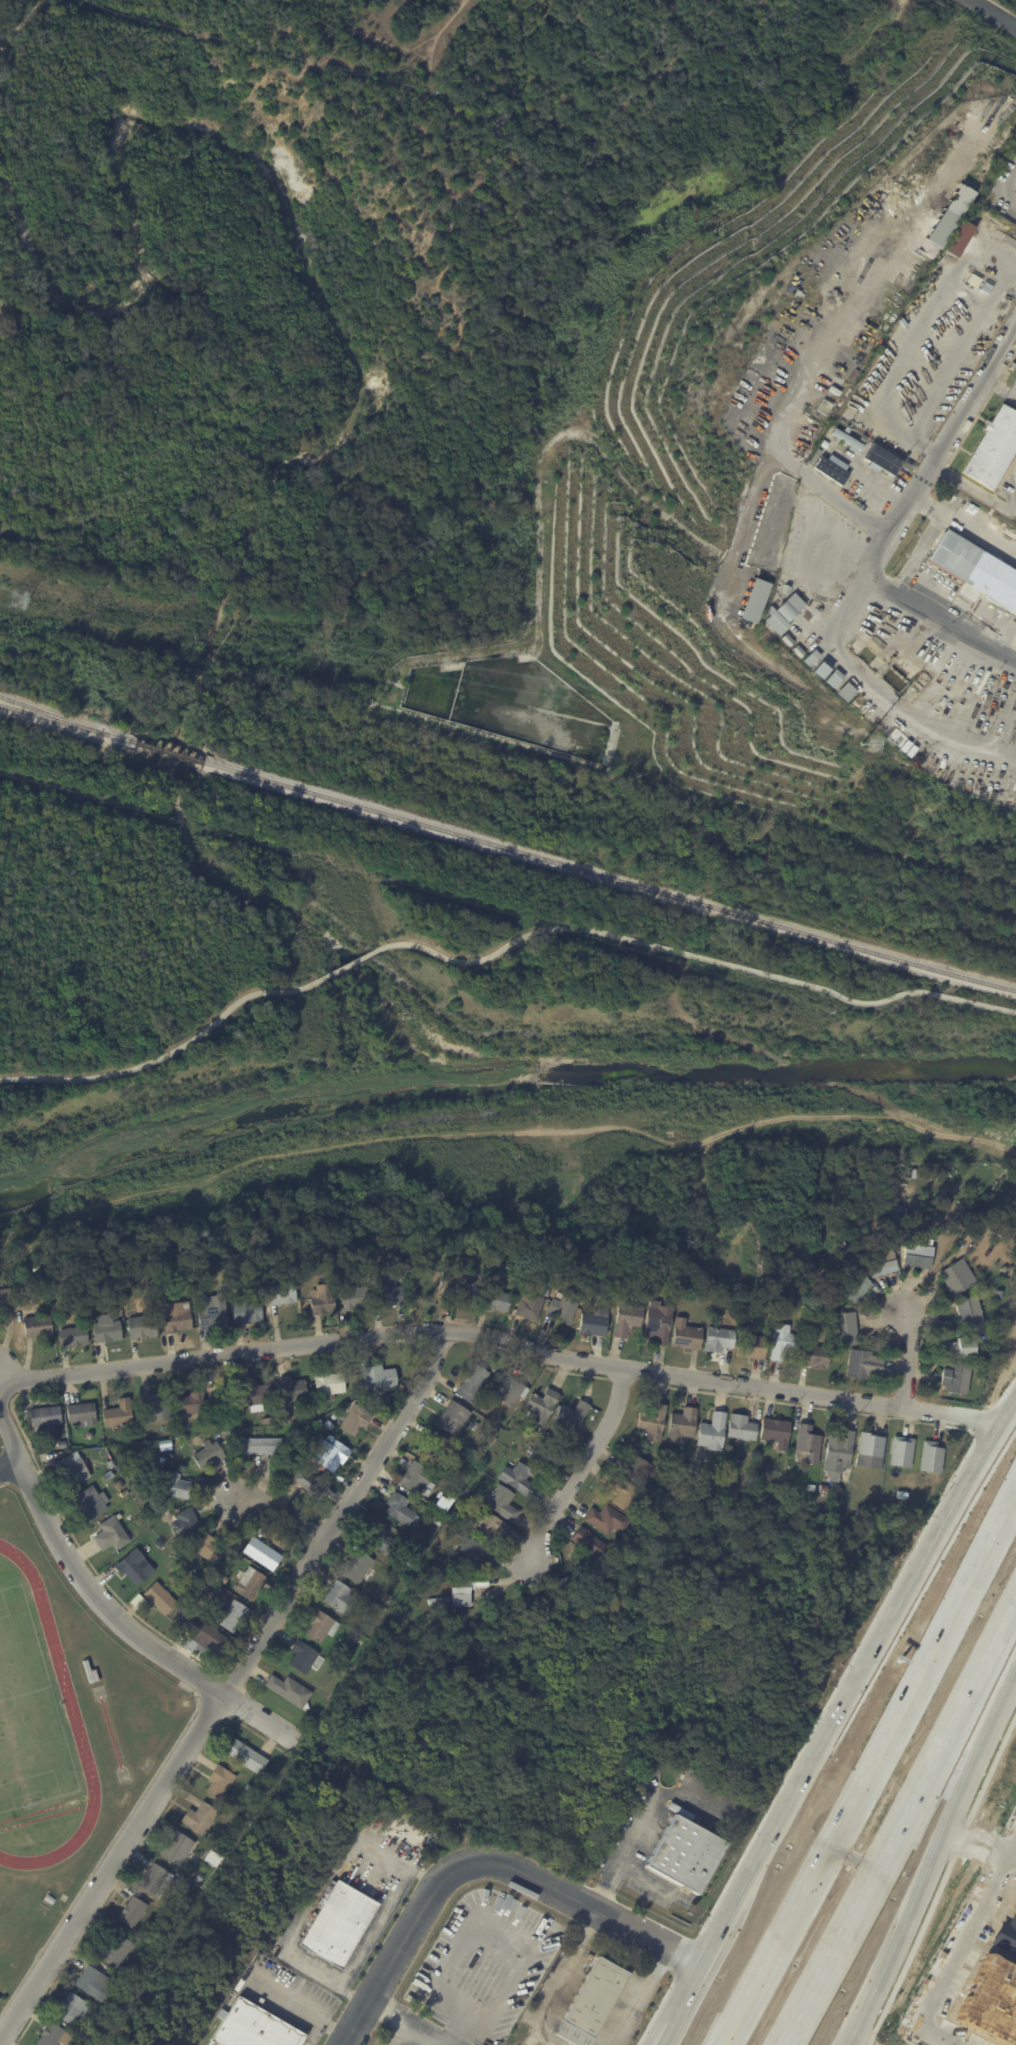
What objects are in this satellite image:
road: (994, 13)
road: (1009, 185)
building: (952, 214)
building: (960, 238)
road: (0, 305)
building: (1012, 365)
building: (846, 416)
building: (847, 438)
building: (993, 448)
building: (883, 456)
building: (812, 460)
building: (831, 468)
road: (895, 517)
building: (976, 567)
building: (786, 589)
building: (755, 598)
power tower: (13, 599)
building: (792, 607)
building: (777, 621)
building: (788, 640)
building: (799, 651)
building: (813, 658)
building: (823, 671)
building: (836, 679)
building: (847, 692)
railway: (38, 708)
railway: (66, 721)
power tower: (873, 743)
railway: (168, 750)
railway: (609, 875)
road: (492, 949)
road: (347, 965)
road: (811, 983)
road: (167, 1049)
building: (902, 1202)
building: (902, 1217)
building: (54, 1220)
building: (991, 1223)
building: (956, 1227)
building: (25, 1228)
building: (389, 1228)
building: (853, 1228)
building: (959, 1229)
building: (413, 1230)
building: (452, 1241)
building: (918, 1253)
building: (395, 1261)
building: (882, 1263)
building: (846, 1266)
building: (313, 1269)
building: (1005, 1269)
building: (205, 1276)
building: (790, 1278)
building: (955, 1278)
building: (460, 1281)
building: (373, 1283)
building: (818, 1284)
building: (855, 1285)
building: (530, 1288)
building: (389, 1290)
building: (280, 1294)
building: (999, 1294)
building: (5, 1298)
building: (353, 1298)
building: (323, 1299)
building: (496, 1300)
building: (529, 1306)
building: (564, 1306)
building: (211, 1312)
building: (247, 1312)
building: (969, 1312)
building: (779, 1315)
building: (175, 1317)
building: (627, 1318)
building: (123, 1319)
building: (594, 1321)
building: (659, 1322)
building: (36, 1326)
building: (141, 1326)
building: (846, 1327)
building: (106, 1330)
building: (687, 1335)
building: (72, 1336)
road: (503, 1339)
building: (719, 1340)
building: (991, 1341)
building: (783, 1342)
building: (751, 1344)
building: (961, 1347)
building: (816, 1356)
road: (908, 1357)
building: (865, 1365)
road: (1004, 1370)
road: (573, 1372)
building: (984, 1374)
building: (378, 1377)
building: (491, 1378)
building: (957, 1378)
road: (621, 1380)
building: (329, 1383)
building: (472, 1383)
building: (291, 1389)
building: (509, 1389)
road: (1005, 1390)
building: (256, 1394)
building: (220, 1396)
building: (190, 1402)
building: (156, 1406)
building: (542, 1406)
building: (81, 1413)
building: (118, 1414)
building: (333, 1416)
building: (45, 1418)
building: (454, 1418)
building: (570, 1419)
building: (267, 1420)
building: (355, 1420)
road: (981, 1420)
building: (652, 1422)
building: (232, 1425)
building: (328, 1425)
building: (682, 1425)
building: (241, 1426)
building: (741, 1427)
building: (537, 1428)
road: (9, 1432)
building: (492, 1432)
building: (712, 1432)
building: (776, 1432)
road: (380, 1435)
building: (223, 1438)
building: (175, 1439)
building: (489, 1441)
building: (808, 1443)
building: (61, 1445)
building: (262, 1446)
building: (436, 1448)
building: (630, 1450)
building: (871, 1450)
building: (902, 1451)
building: (838, 1453)
building: (330, 1454)
building: (209, 1455)
building: (178, 1456)
building: (932, 1457)
road: (9, 1463)
building: (110, 1464)
road: (580, 1467)
building: (72, 1469)
building: (637, 1470)
road: (21, 1474)
building: (108, 1475)
building: (765, 1477)
building: (517, 1478)
building: (418, 1479)
road: (3, 1483)
building: (118, 1484)
building: (309, 1484)
building: (173, 1485)
building: (757, 1487)
building: (810, 1487)
building: (823, 1487)
building: (742, 1492)
building: (124, 1493)
building: (623, 1493)
building: (90, 1502)
building: (440, 1502)
building: (500, 1503)
building: (398, 1508)
road: (281, 1512)
building: (454, 1516)
building: (607, 1521)
building: (187, 1522)
building: (486, 1525)
building: (635, 1525)
building: (627, 1530)
road: (312, 1534)
road: (920, 1534)
building: (110, 1535)
building: (378, 1537)
building: (588, 1543)
building: (161, 1545)
building: (238, 1548)
building: (208, 1549)
building: (262, 1554)
building: (467, 1554)
building: (411, 1562)
building: (134, 1567)
building: (357, 1567)
building: (225, 1571)
building: (250, 1584)
building: (213, 1589)
building: (463, 1590)
building: (159, 1598)
building: (339, 1598)
building: (137, 1601)
building: (430, 1601)
building: (442, 1602)
road: (130, 1610)
building: (233, 1616)
building: (320, 1627)
road: (128, 1628)
building: (206, 1636)
building: (391, 1636)
building: (359, 1643)
building: (305, 1658)
building: (89, 1671)
building: (335, 1674)
track: (63, 1681)
road: (207, 1684)
building: (333, 1684)
road: (230, 1688)
building: (289, 1691)
road: (842, 1701)
road: (212, 1712)
park: (26, 1716)
building: (245, 1757)
road: (869, 1768)
road: (990, 1769)
road: (926, 1776)
building: (219, 1782)
building: (248, 1788)
road: (647, 1800)
park: (70, 1801)
track: (31, 1812)
track: (40, 1818)
building: (200, 1818)
park: (0, 1830)
road: (959, 1841)
road: (976, 1844)
road: (350, 1845)
road: (107, 1847)
road: (1013, 1847)
building: (176, 1848)
road: (139, 1851)
road: (1013, 1854)
building: (684, 1855)
road: (934, 1856)
road: (482, 1861)
building: (210, 1865)
road: (410, 1870)
road: (427, 1878)
building: (155, 1882)
road: (654, 1883)
building: (49, 1899)
road: (601, 1899)
building: (55, 1911)
building: (131, 1913)
building: (338, 1923)
road: (493, 1928)
road: (914, 1946)
building: (113, 1951)
road: (958, 1954)
road: (684, 1958)
building: (540, 1974)
building: (93, 1982)
road: (810, 1996)
road: (286, 2000)
road: (368, 2000)
building: (592, 2002)
building: (71, 2008)
road: (653, 2014)
road: (459, 2024)
road: (664, 2024)
road: (669, 2024)
building: (254, 2027)
road: (416, 2028)
road: (337, 2031)
road: (314, 2033)
building: (50, 2035)
road: (870, 2039)
road: (860, 2041)
park: (896, 2043)

